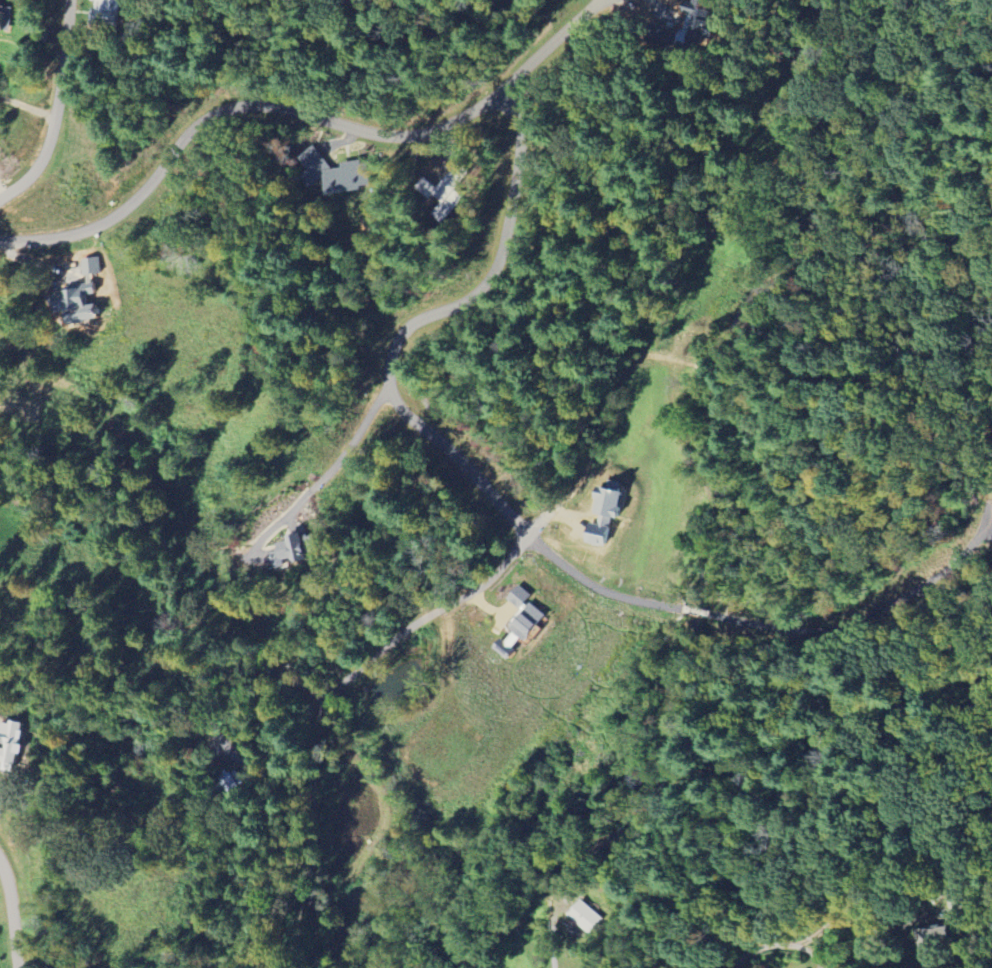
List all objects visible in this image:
building: (113, 11)
building: (7, 17)
building: (699, 19)
road: (55, 109)
road: (303, 117)
building: (351, 179)
building: (455, 187)
road: (493, 269)
road: (349, 440)
road: (454, 458)
building: (613, 513)
building: (304, 548)
road: (583, 590)
building: (527, 621)
road: (353, 667)
building: (236, 779)
road: (12, 913)
building: (586, 916)
road: (804, 940)
road: (550, 943)

